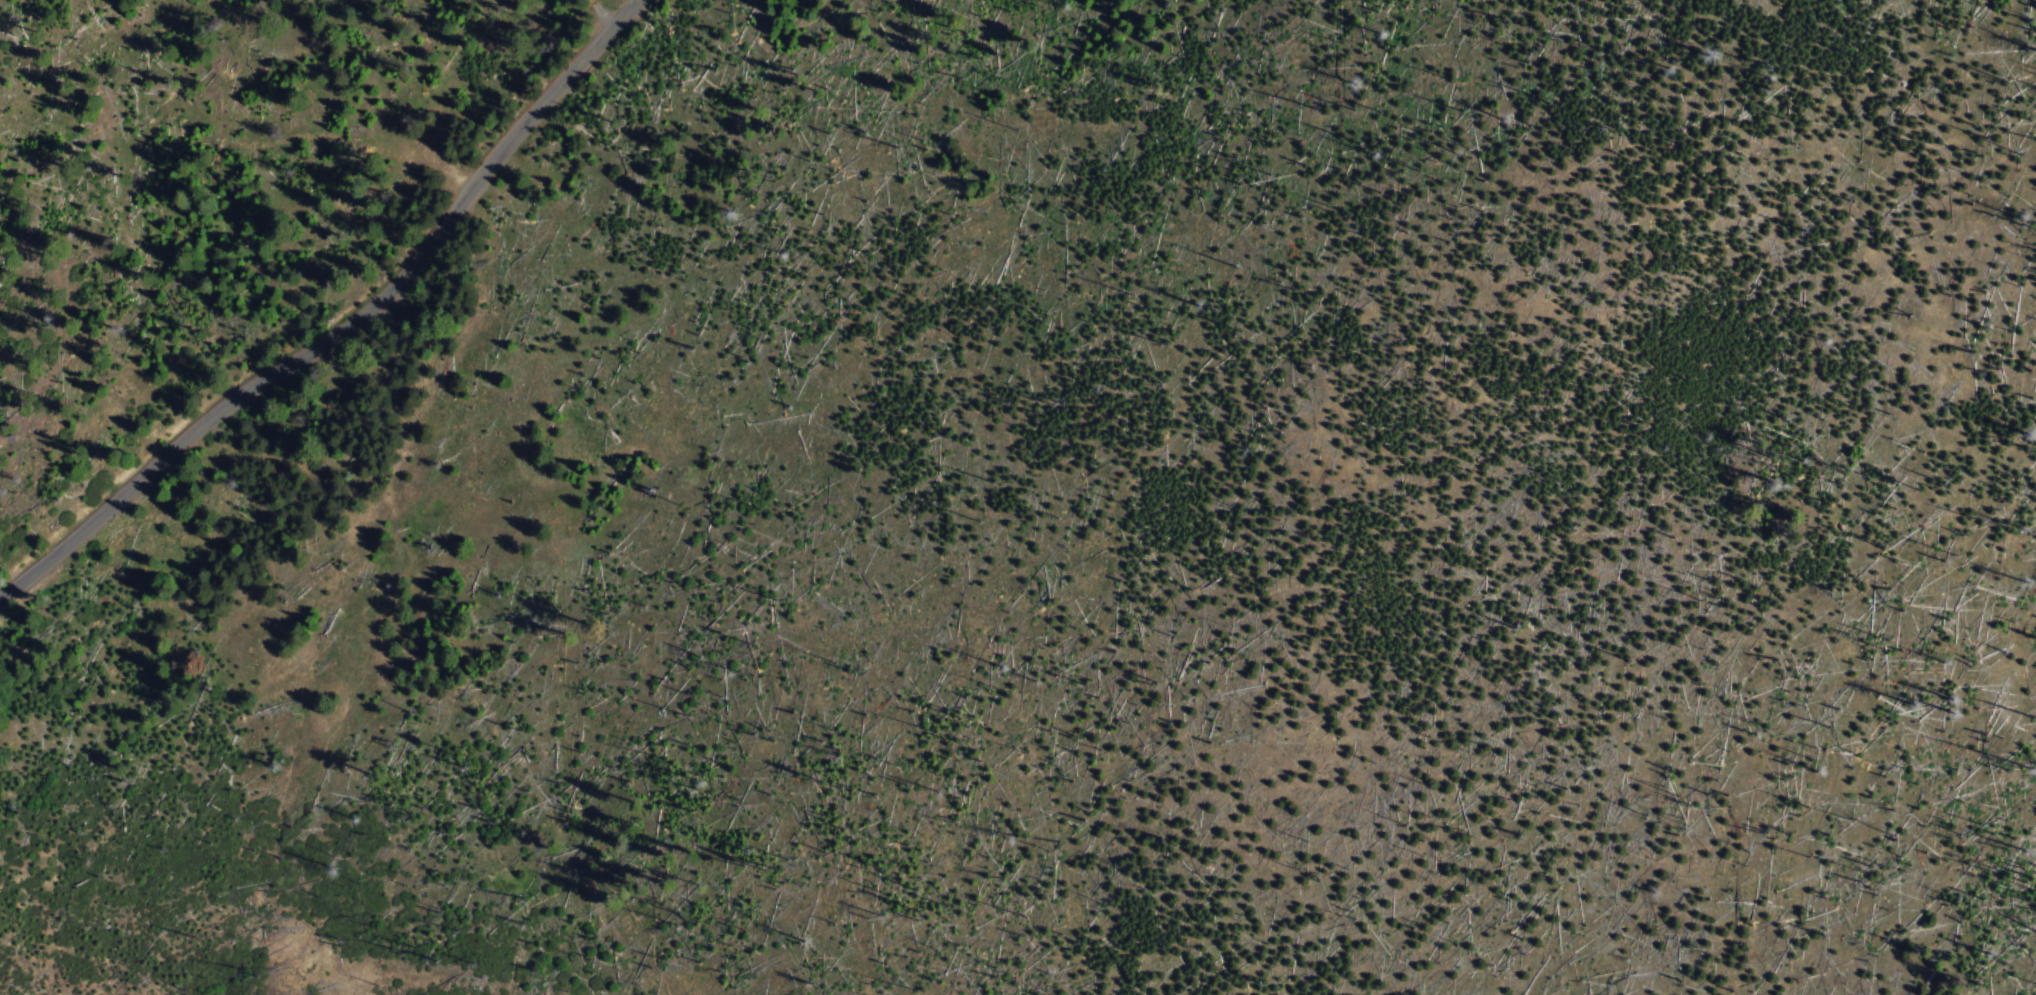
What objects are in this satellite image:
road: (600, 15)
road: (433, 156)
road: (346, 325)

